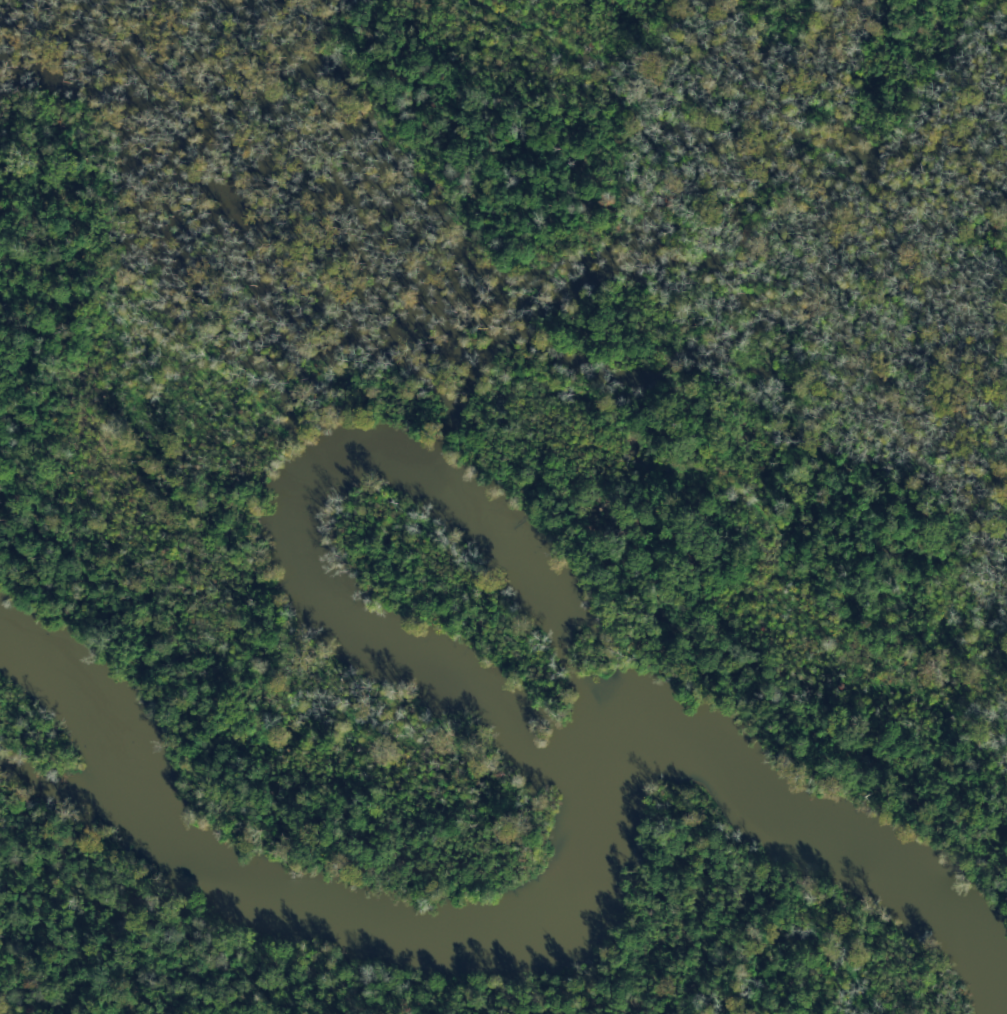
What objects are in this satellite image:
river: (532, 922)

